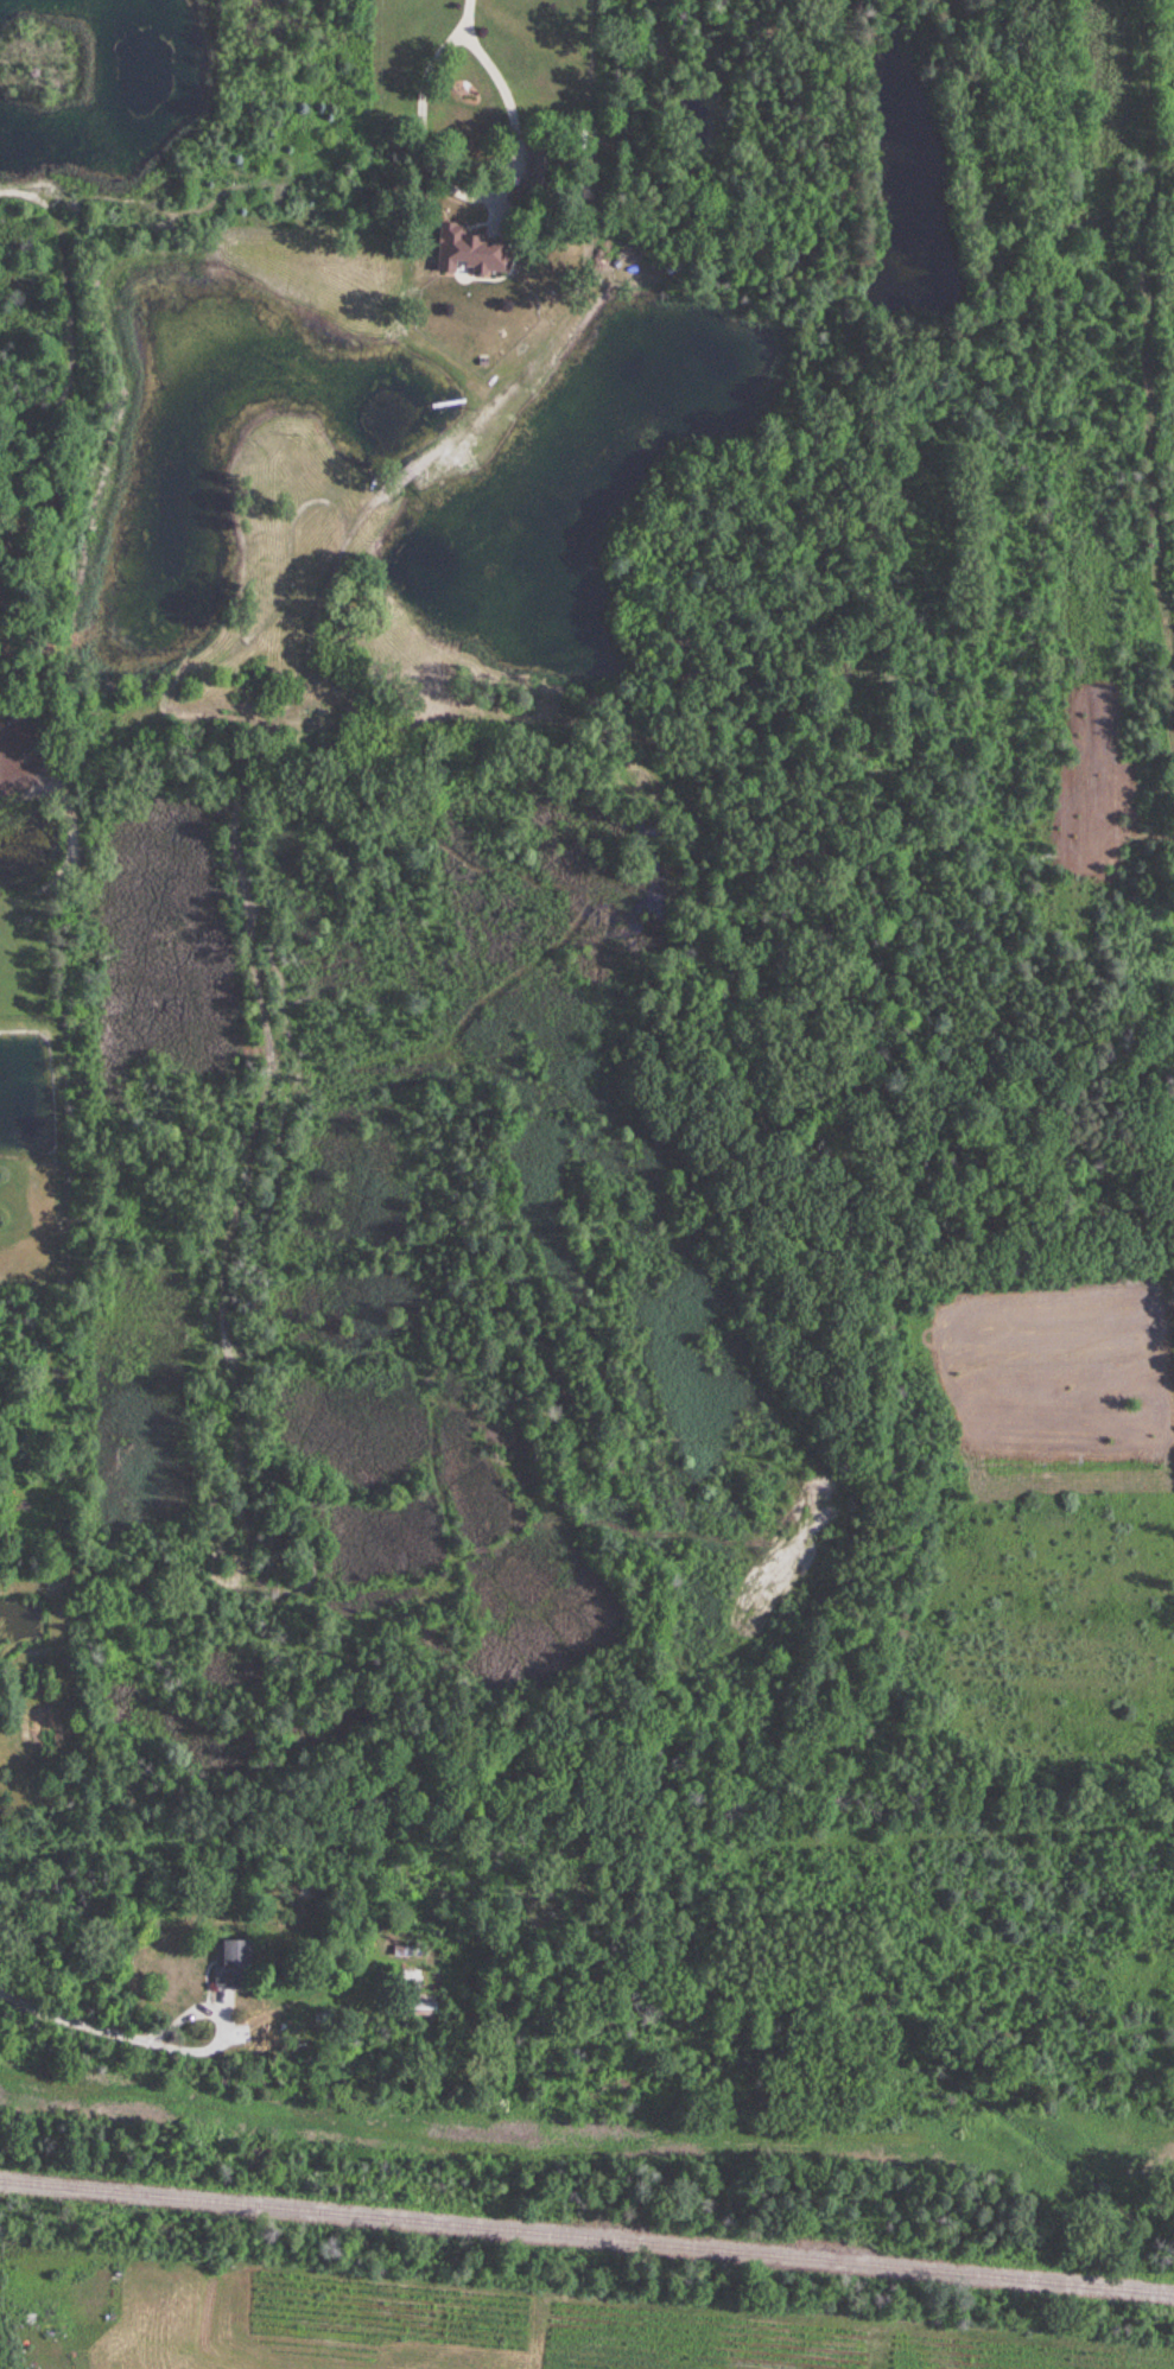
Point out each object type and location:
road: (468, 15)
road: (471, 195)
building: (467, 252)
building: (231, 1963)
building: (412, 1975)
building: (418, 2008)
road: (68, 2016)
road: (220, 2019)
railway: (586, 2237)

